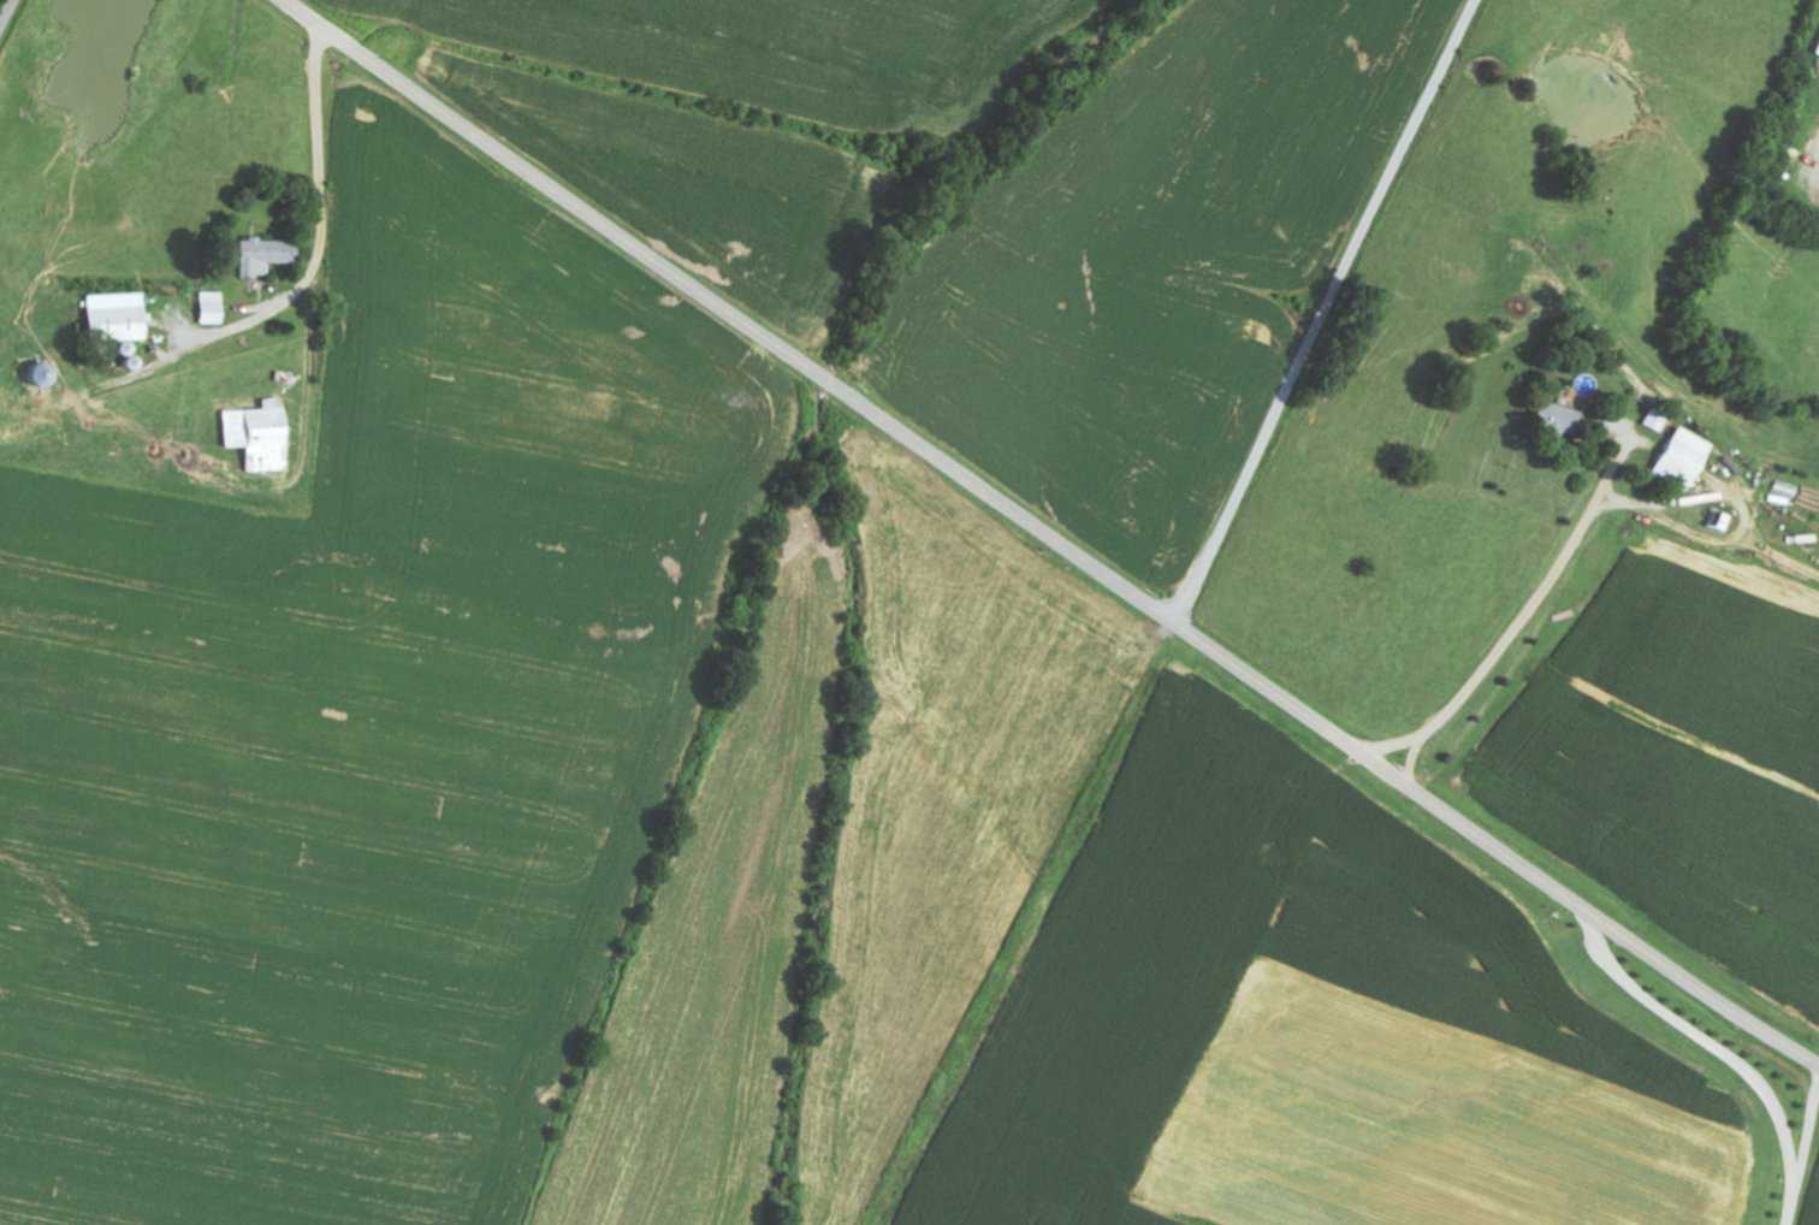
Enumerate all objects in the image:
road: (7, 14)
building: (267, 256)
building: (214, 308)
road: (1328, 312)
building: (1563, 418)
building: (1658, 420)
building: (262, 436)
building: (1685, 460)
road: (1049, 535)
road: (1637, 625)

